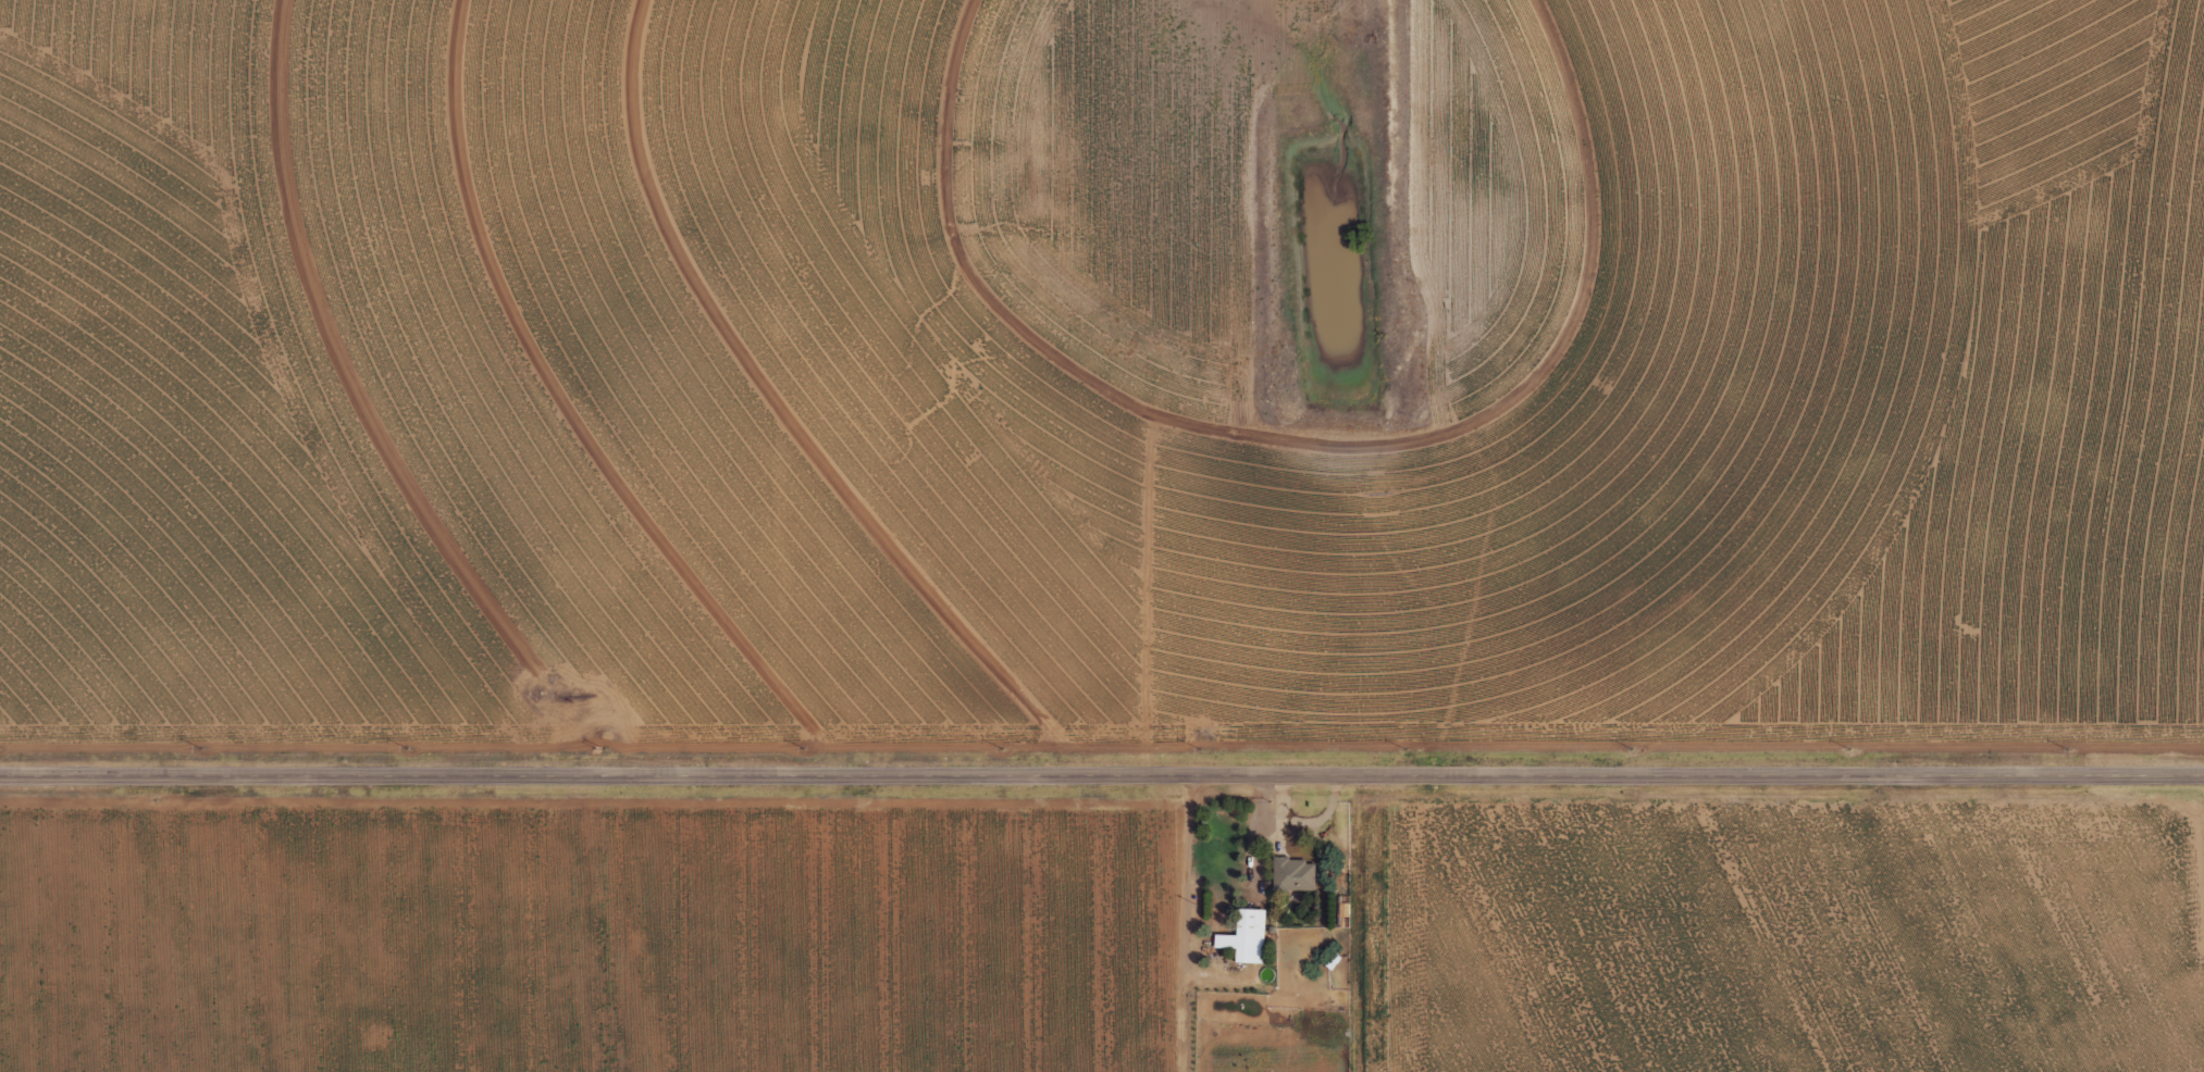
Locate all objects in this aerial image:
road: (1101, 768)
road: (1187, 896)
building: (1247, 937)

